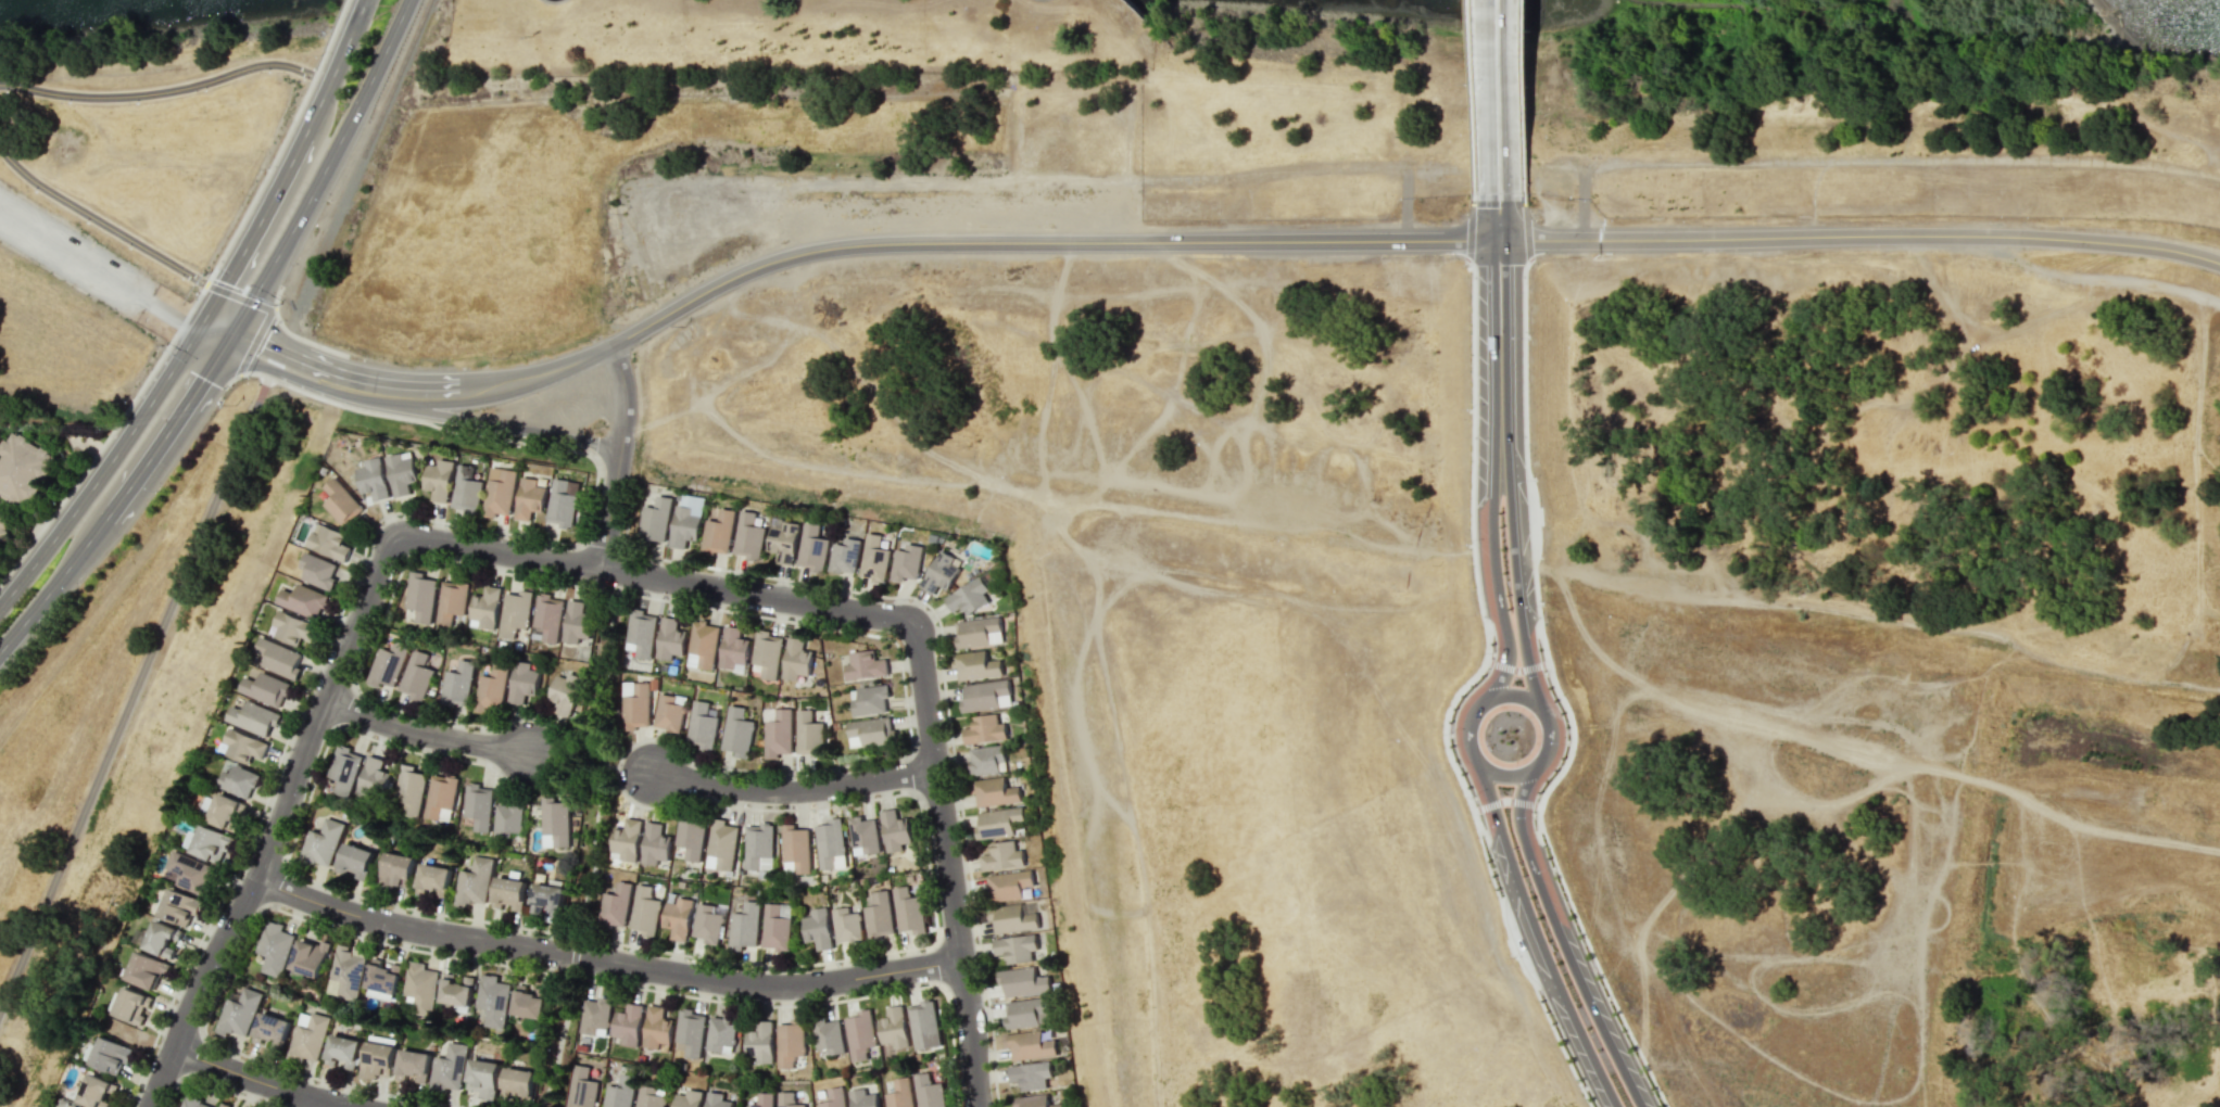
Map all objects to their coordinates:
road: (1488, 37)
street lamp: (324, 59)
road: (335, 65)
railway: (394, 78)
road: (1505, 103)
road: (1487, 140)
street lamp: (266, 167)
road: (324, 169)
street lamp: (329, 200)
road: (1582, 204)
road: (1508, 222)
road: (254, 226)
road: (1856, 236)
road: (1069, 242)
parking lot: (73, 255)
road: (2029, 263)
road: (99, 272)
road: (2155, 281)
road: (1941, 297)
traffic signals: (203, 322)
road: (2028, 323)
road: (216, 328)
traffic signals: (230, 334)
power tower: (506, 357)
road: (575, 361)
road: (352, 373)
road: (431, 403)
power tower: (217, 404)
road: (416, 409)
power tower: (234, 412)
road: (168, 425)
power tower: (98, 427)
road: (1494, 449)
road: (618, 456)
building: (23, 466)
road: (105, 467)
road: (1506, 469)
building: (401, 471)
building: (373, 476)
building: (439, 478)
building: (467, 488)
building: (500, 489)
building: (530, 497)
building: (564, 500)
building: (342, 501)
building: (654, 519)
building: (4, 524)
building: (682, 525)
building: (717, 531)
building: (747, 534)
building: (781, 539)
building: (329, 542)
building: (810, 546)
road: (494, 549)
building: (842, 553)
building: (873, 558)
building: (905, 561)
building: (318, 569)
street lamp: (727, 571)
building: (939, 571)
road: (53, 583)
building: (420, 594)
building: (968, 595)
road: (759, 598)
building: (303, 599)
building: (451, 599)
street lamp: (1542, 602)
building: (485, 605)
building: (515, 611)
building: (547, 614)
building: (577, 621)
building: (293, 626)
building: (975, 629)
building: (641, 631)
building: (670, 637)
building: (704, 641)
building: (733, 647)
street lamp: (1492, 651)
building: (767, 652)
building: (279, 657)
building: (796, 658)
building: (388, 662)
building: (865, 664)
building: (975, 664)
street lamp: (1546, 673)
building: (415, 675)
street lamp: (904, 675)
building: (522, 680)
building: (457, 683)
building: (265, 687)
road: (135, 688)
street lamp: (308, 688)
building: (491, 688)
road: (135, 690)
building: (565, 691)
building: (984, 694)
road: (136, 699)
building: (870, 699)
building: (635, 707)
building: (668, 712)
building: (253, 716)
building: (702, 725)
crop: (97, 727)
building: (984, 728)
building: (872, 729)
building: (736, 730)
building: (778, 733)
building: (808, 733)
street lamp: (1450, 733)
road: (421, 734)
street lamp: (649, 736)
street lamp: (1567, 742)
building: (243, 745)
street lamp: (949, 747)
building: (986, 759)
park: (594, 764)
road: (572, 766)
road: (602, 766)
building: (344, 768)
road: (1504, 772)
street lamp: (754, 773)
street lamp: (495, 774)
building: (373, 777)
building: (239, 779)
building: (409, 788)
road: (792, 791)
building: (995, 791)
building: (441, 793)
street lamp: (306, 794)
street lamp: (1473, 796)
street lamp: (843, 801)
building: (479, 804)
building: (225, 811)
street lamp: (1534, 815)
building: (508, 818)
building: (556, 819)
building: (998, 823)
road: (276, 827)
building: (895, 829)
building: (690, 834)
building: (863, 834)
building: (626, 838)
building: (324, 841)
building: (211, 842)
building: (722, 842)
building: (829, 842)
building: (654, 843)
building: (757, 843)
street lamp: (584, 844)
building: (795, 848)
building: (1001, 855)
building: (355, 860)
street lamp: (929, 864)
street lamp: (1554, 868)
building: (396, 870)
road: (947, 870)
building: (190, 873)
street lamp: (237, 874)
building: (434, 878)
building: (475, 880)
building: (1007, 885)
building: (510, 892)
building: (548, 898)
building: (614, 904)
building: (179, 906)
building: (644, 911)
building: (909, 911)
building: (879, 915)
street lamp: (447, 916)
building: (678, 917)
building: (1011, 917)
building: (707, 922)
street lamp: (588, 924)
building: (846, 925)
building: (743, 926)
building: (774, 928)
building: (817, 928)
street lamp: (340, 929)
road: (1561, 937)
building: (161, 938)
road: (1540, 939)
building: (275, 947)
building: (1016, 947)
road: (572, 956)
building: (310, 957)
street lamp: (1514, 957)
road: (603, 960)
building: (144, 970)
street lamp: (979, 970)
building: (346, 971)
street lamp: (557, 975)
building: (383, 977)
building: (1023, 980)
building: (420, 987)
building: (457, 991)
street lamp: (1609, 997)
building: (493, 1000)
building: (530, 1002)
street lamp: (743, 1003)
building: (130, 1005)
building: (239, 1011)
building: (1025, 1011)
building: (594, 1015)
building: (627, 1023)
building: (924, 1025)
building: (656, 1027)
building: (894, 1027)
building: (270, 1029)
building: (690, 1031)
building: (720, 1033)
building: (859, 1034)
building: (829, 1035)
road: (558, 1036)
park: (559, 1036)
building: (307, 1038)
building: (760, 1042)
building: (791, 1042)
building: (1029, 1044)
building: (342, 1051)
building: (110, 1055)
street lamp: (954, 1056)
building: (377, 1060)
building: (414, 1065)
building: (450, 1068)
building: (1030, 1074)
building: (484, 1078)
road: (261, 1081)
building: (519, 1083)
street lamp: (1584, 1085)
building: (581, 1087)
street lamp: (353, 1089)
building: (929, 1091)
building: (96, 1092)
building: (619, 1092)
building: (899, 1094)
building: (648, 1097)
building: (834, 1097)
building: (686, 1098)
building: (862, 1098)
building: (716, 1099)
building: (765, 1099)
building: (787, 1099)
building: (193, 1100)
street lamp: (258, 1100)
building: (1034, 1100)
building: (62, 1103)
road: (324, 1104)
building: (225, 1105)
building: (77, 1106)
building: (80, 1106)
building: (749, 1106)

